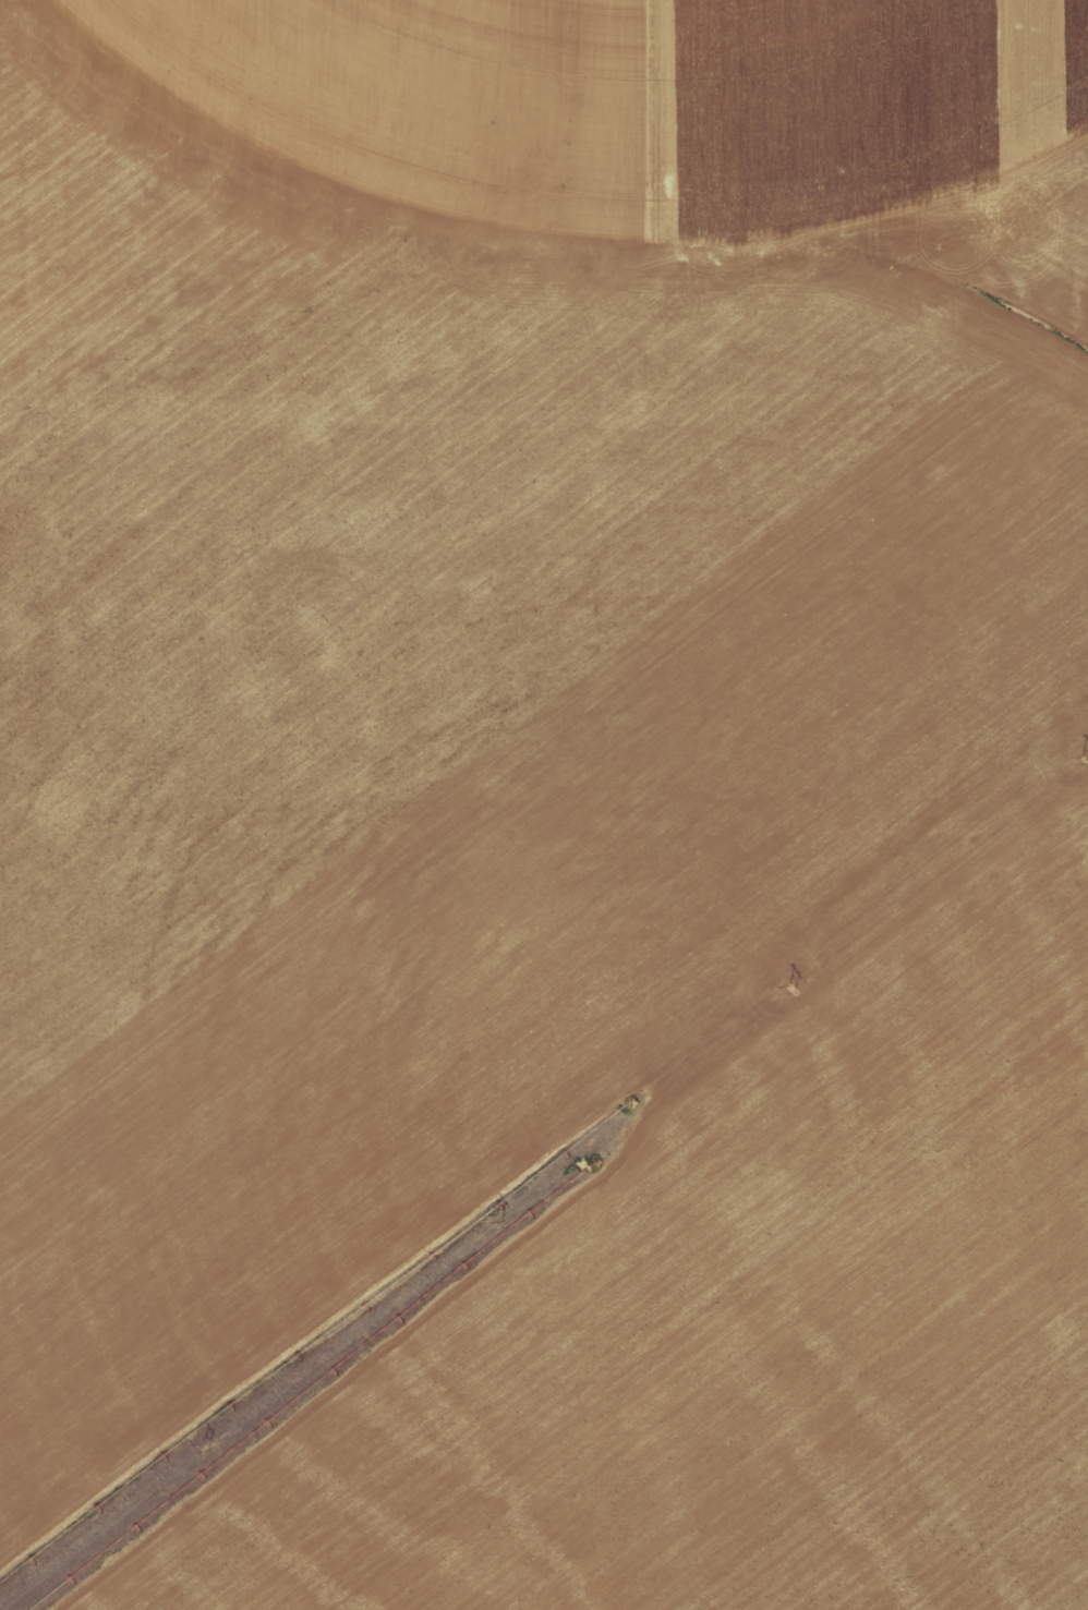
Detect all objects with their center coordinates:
power tower: (1084, 759)
power tower: (789, 986)
power tower: (498, 1215)
power tower: (206, 1444)

